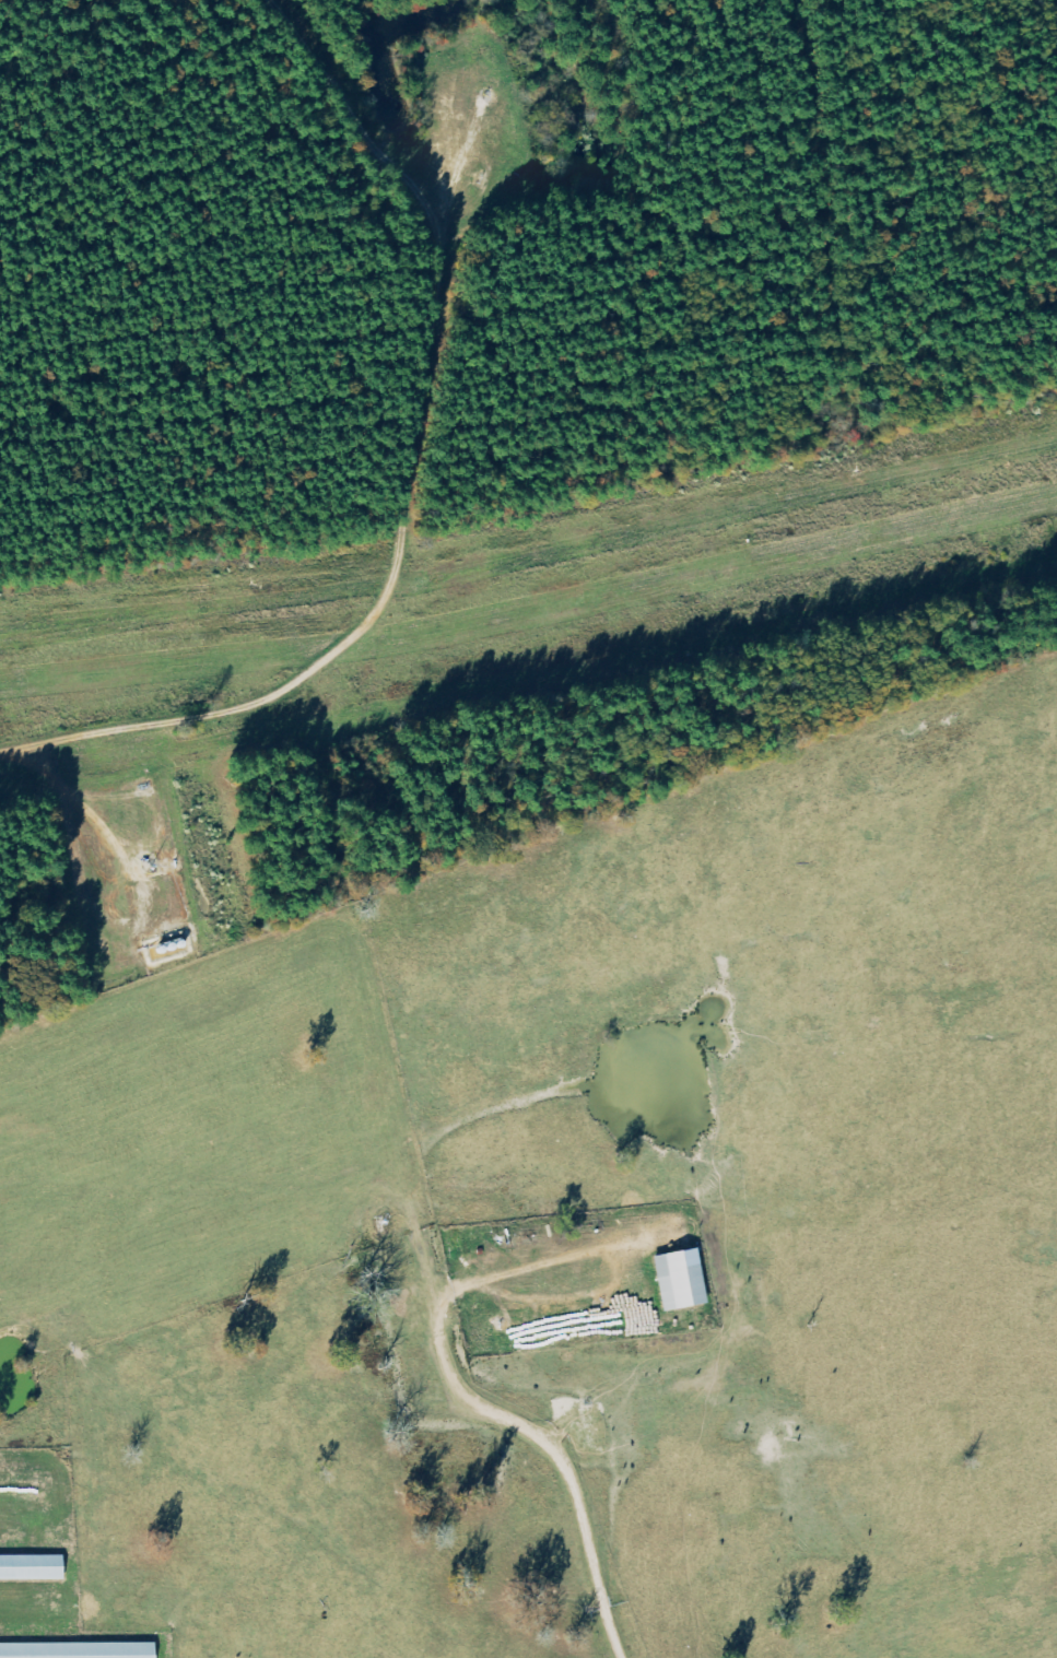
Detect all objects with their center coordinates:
road: (611, 1268)
building: (679, 1281)
road: (541, 1442)
building: (31, 1568)
building: (77, 1650)

